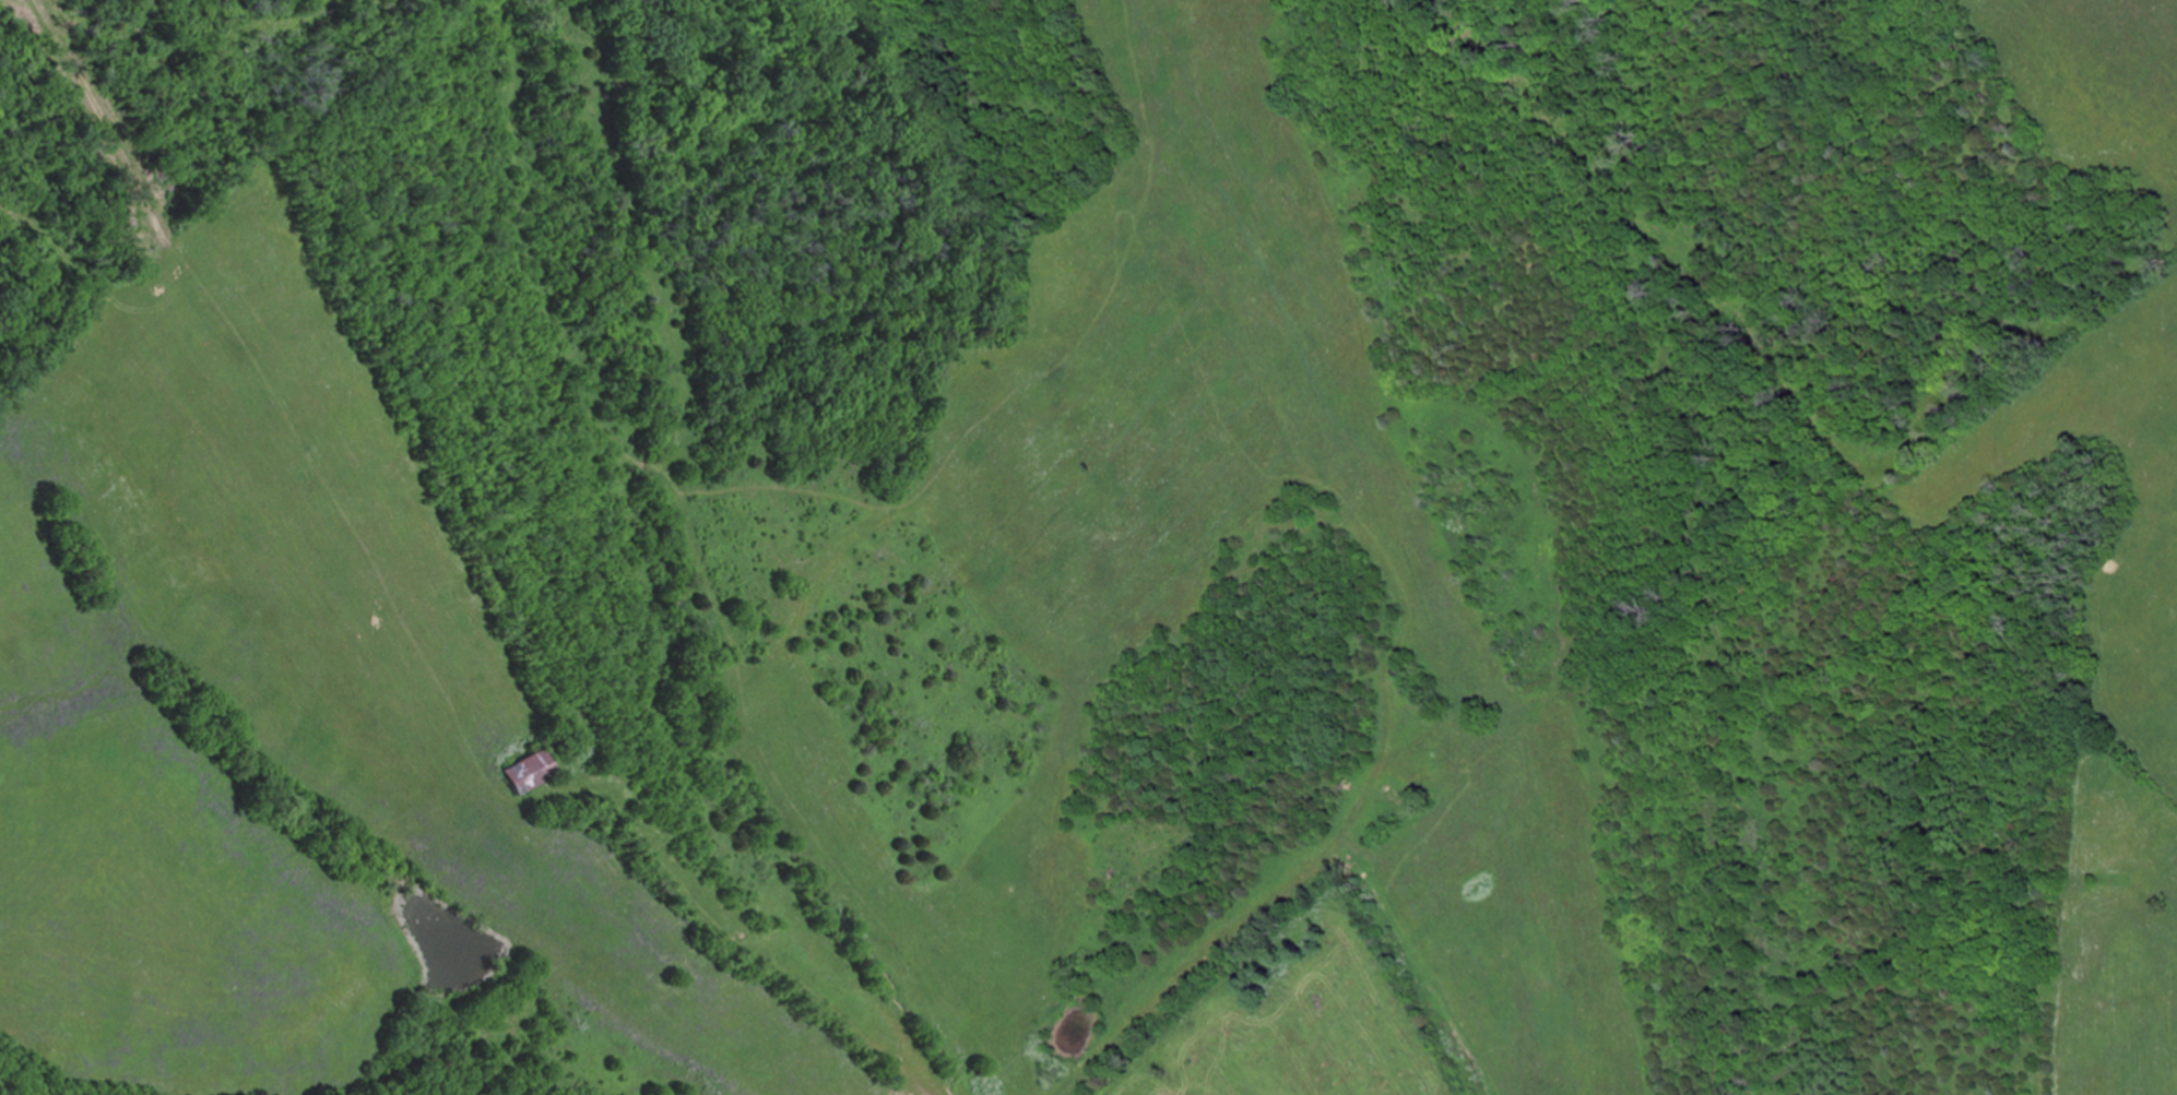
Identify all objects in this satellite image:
building: (521, 773)
road: (1317, 937)
road: (649, 941)

